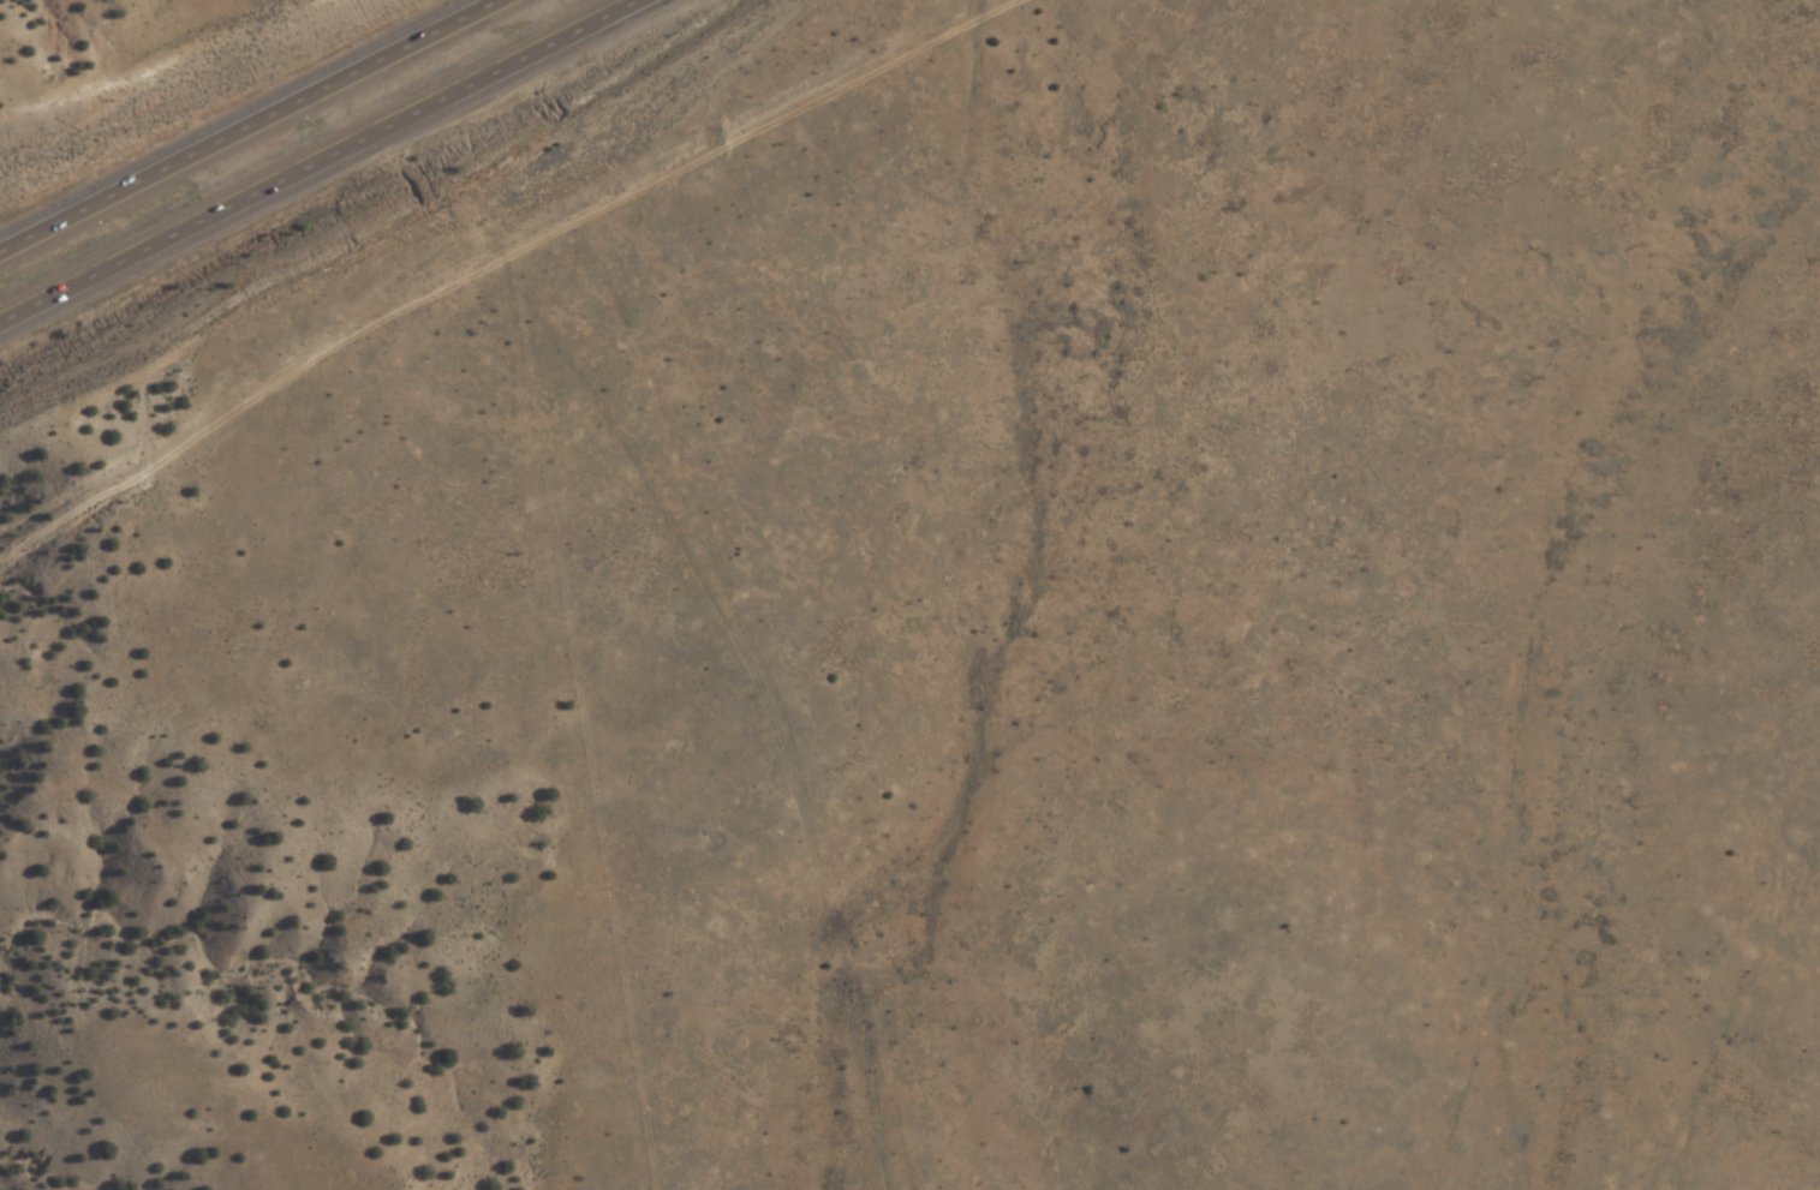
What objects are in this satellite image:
road: (263, 130)
road: (320, 166)

